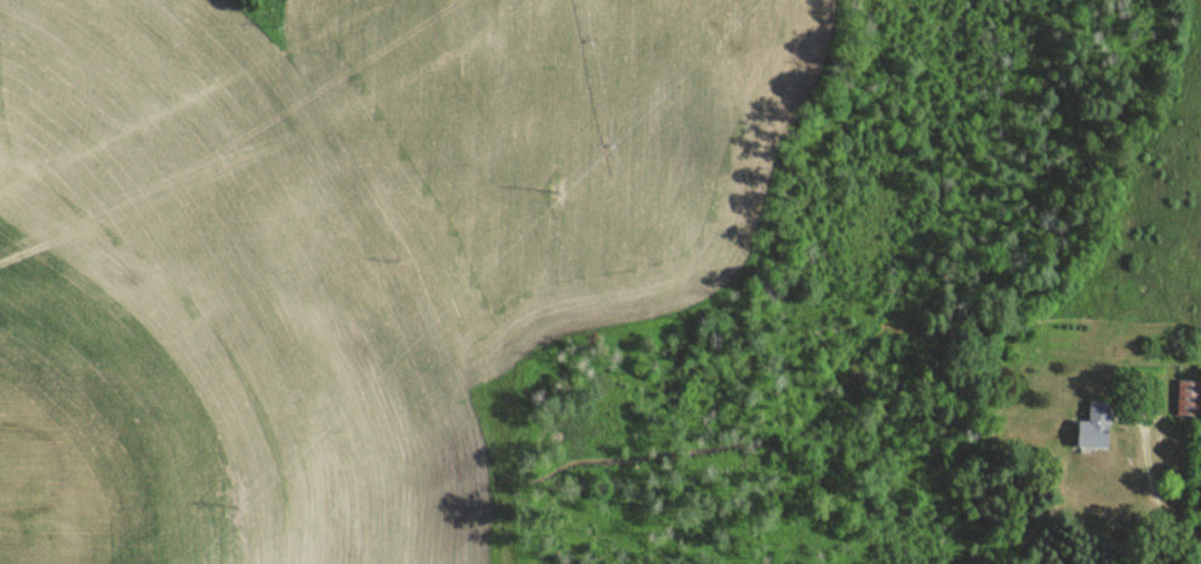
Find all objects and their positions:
power tower: (548, 203)
building: (1188, 399)
building: (1092, 428)
road: (1156, 496)
power tower: (240, 502)

